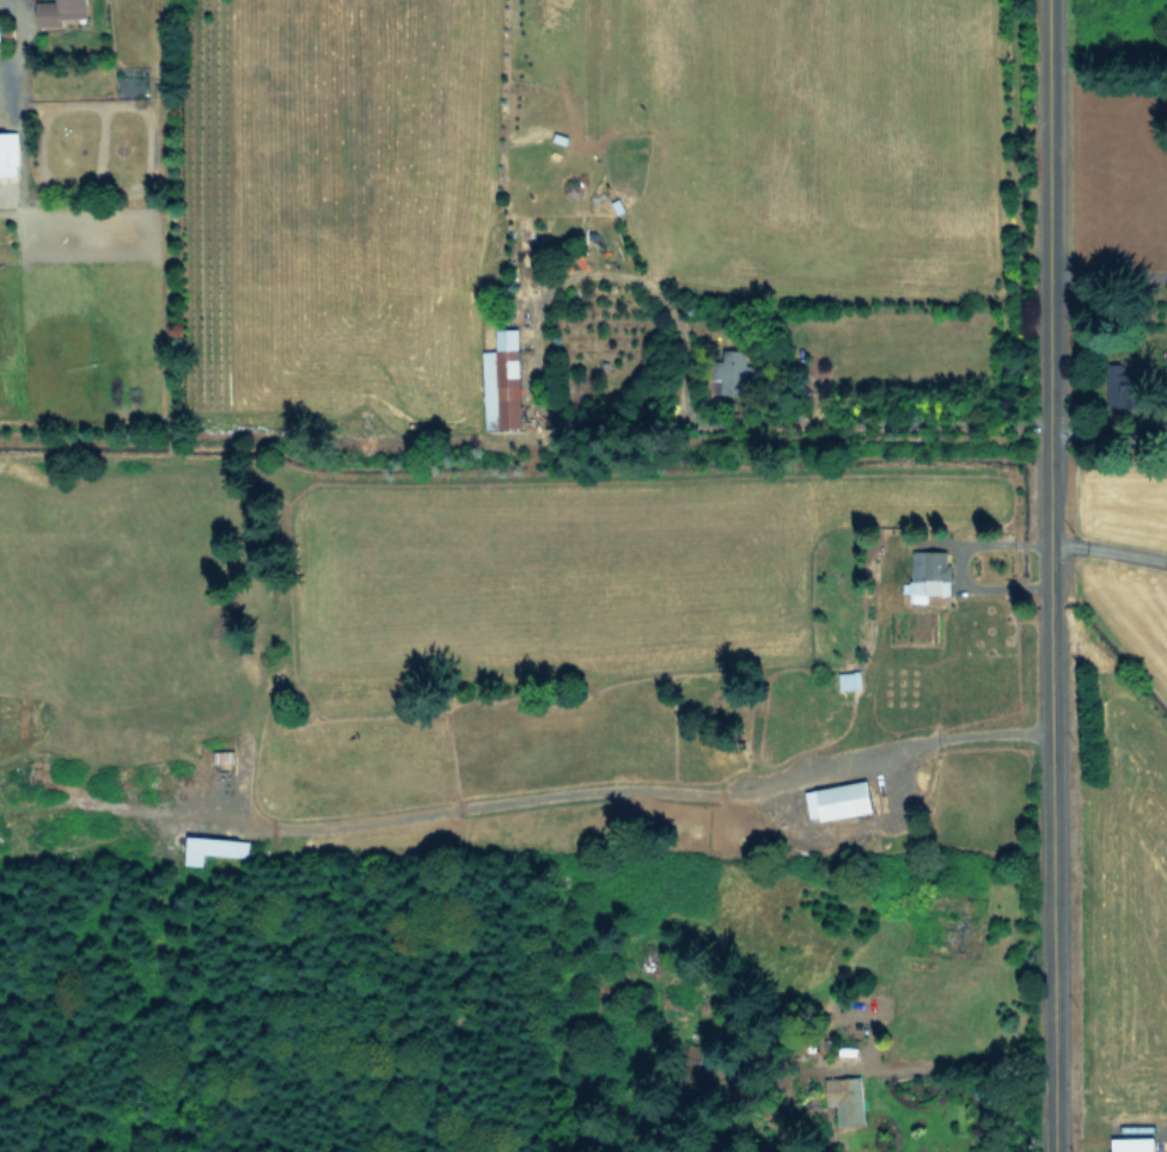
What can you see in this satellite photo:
building: (60, 10)
building: (0, 38)
building: (8, 153)
road: (1105, 269)
building: (732, 370)
building: (502, 380)
building: (1126, 388)
road: (788, 422)
road: (1106, 543)
building: (929, 574)
road: (1045, 576)
building: (849, 679)
building: (839, 798)
building: (209, 847)
road: (960, 1066)
building: (853, 1101)
building: (1134, 1144)

